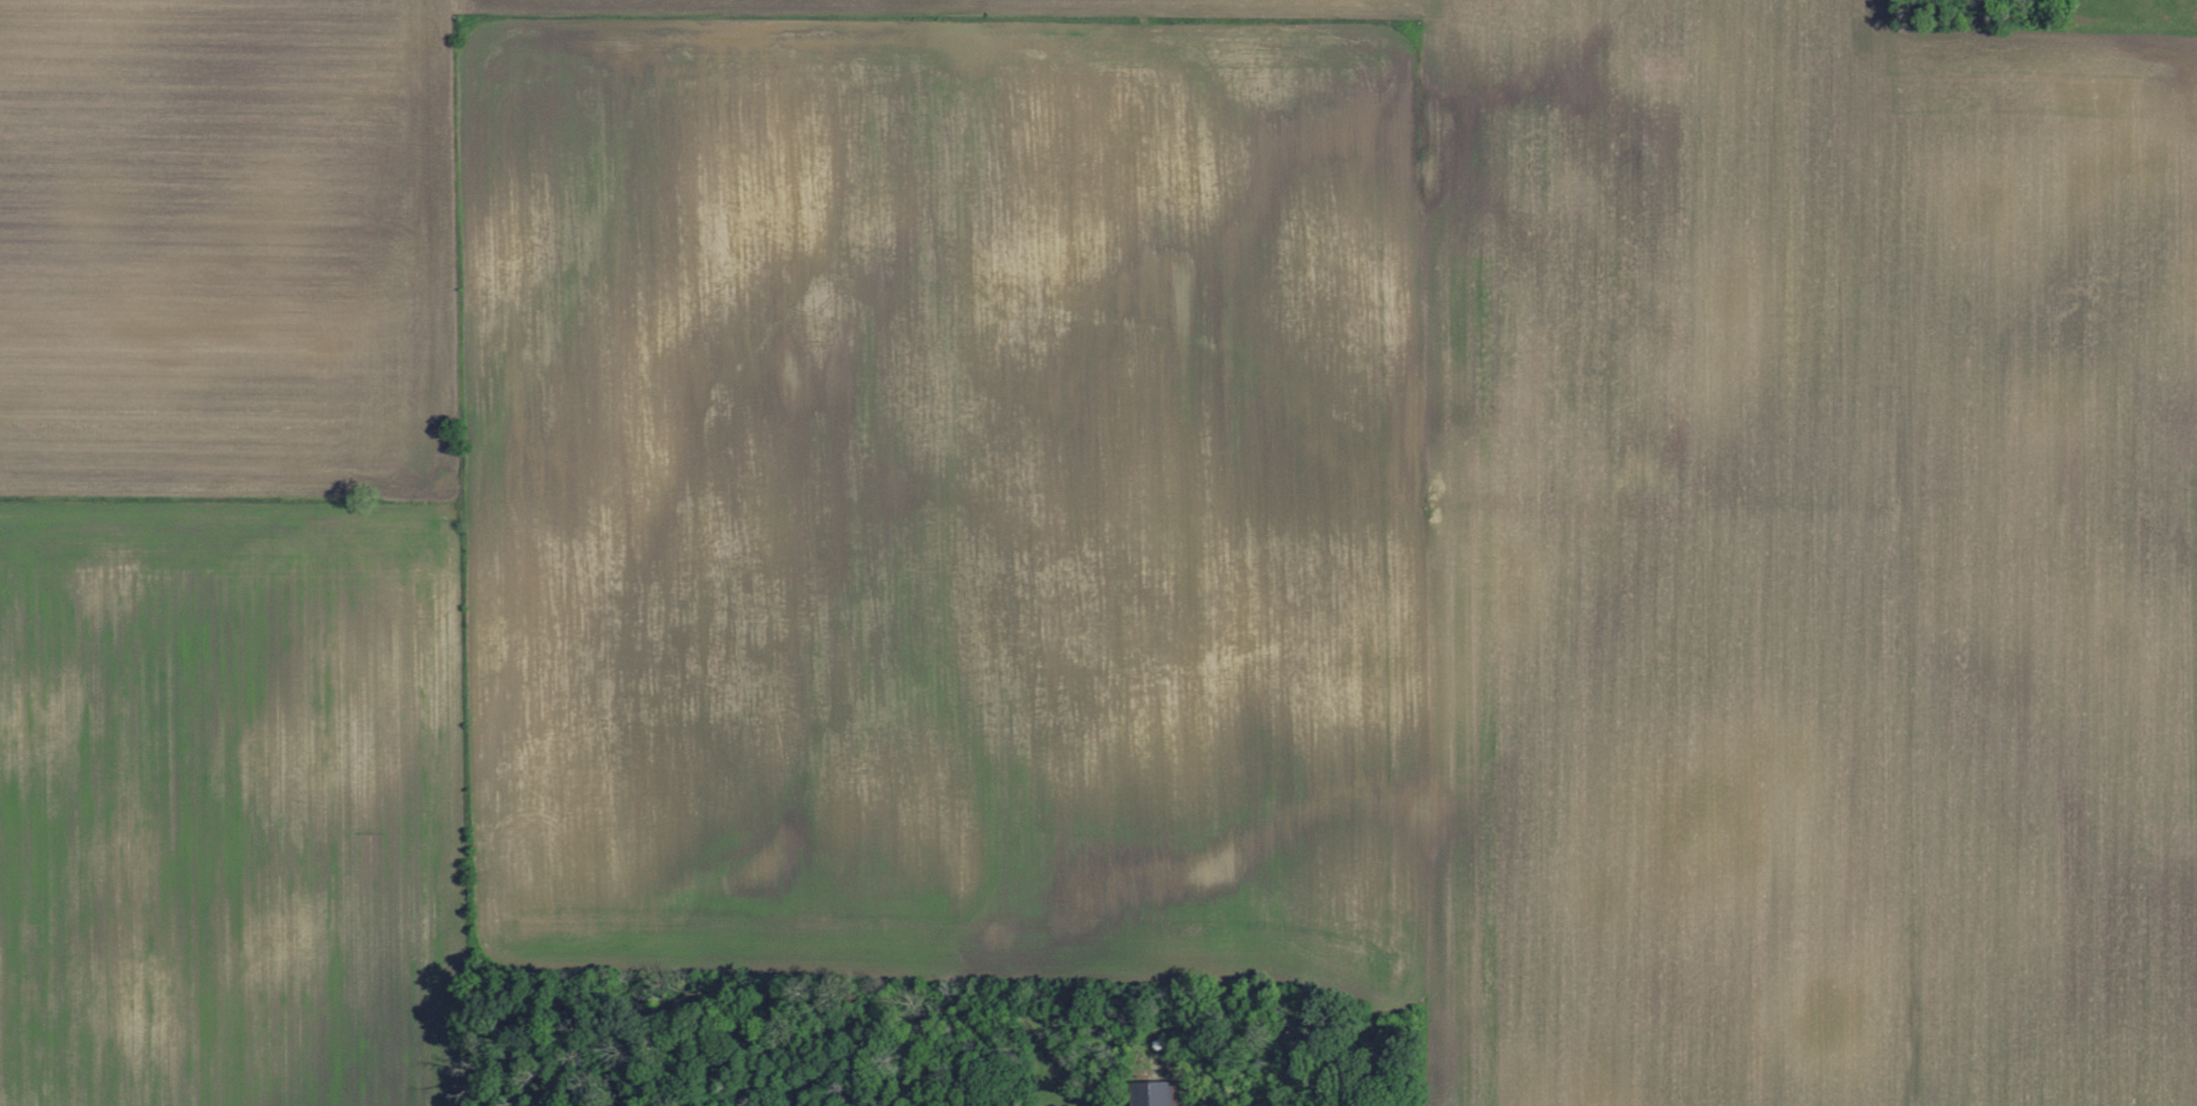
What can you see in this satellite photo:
building: (1151, 1094)

